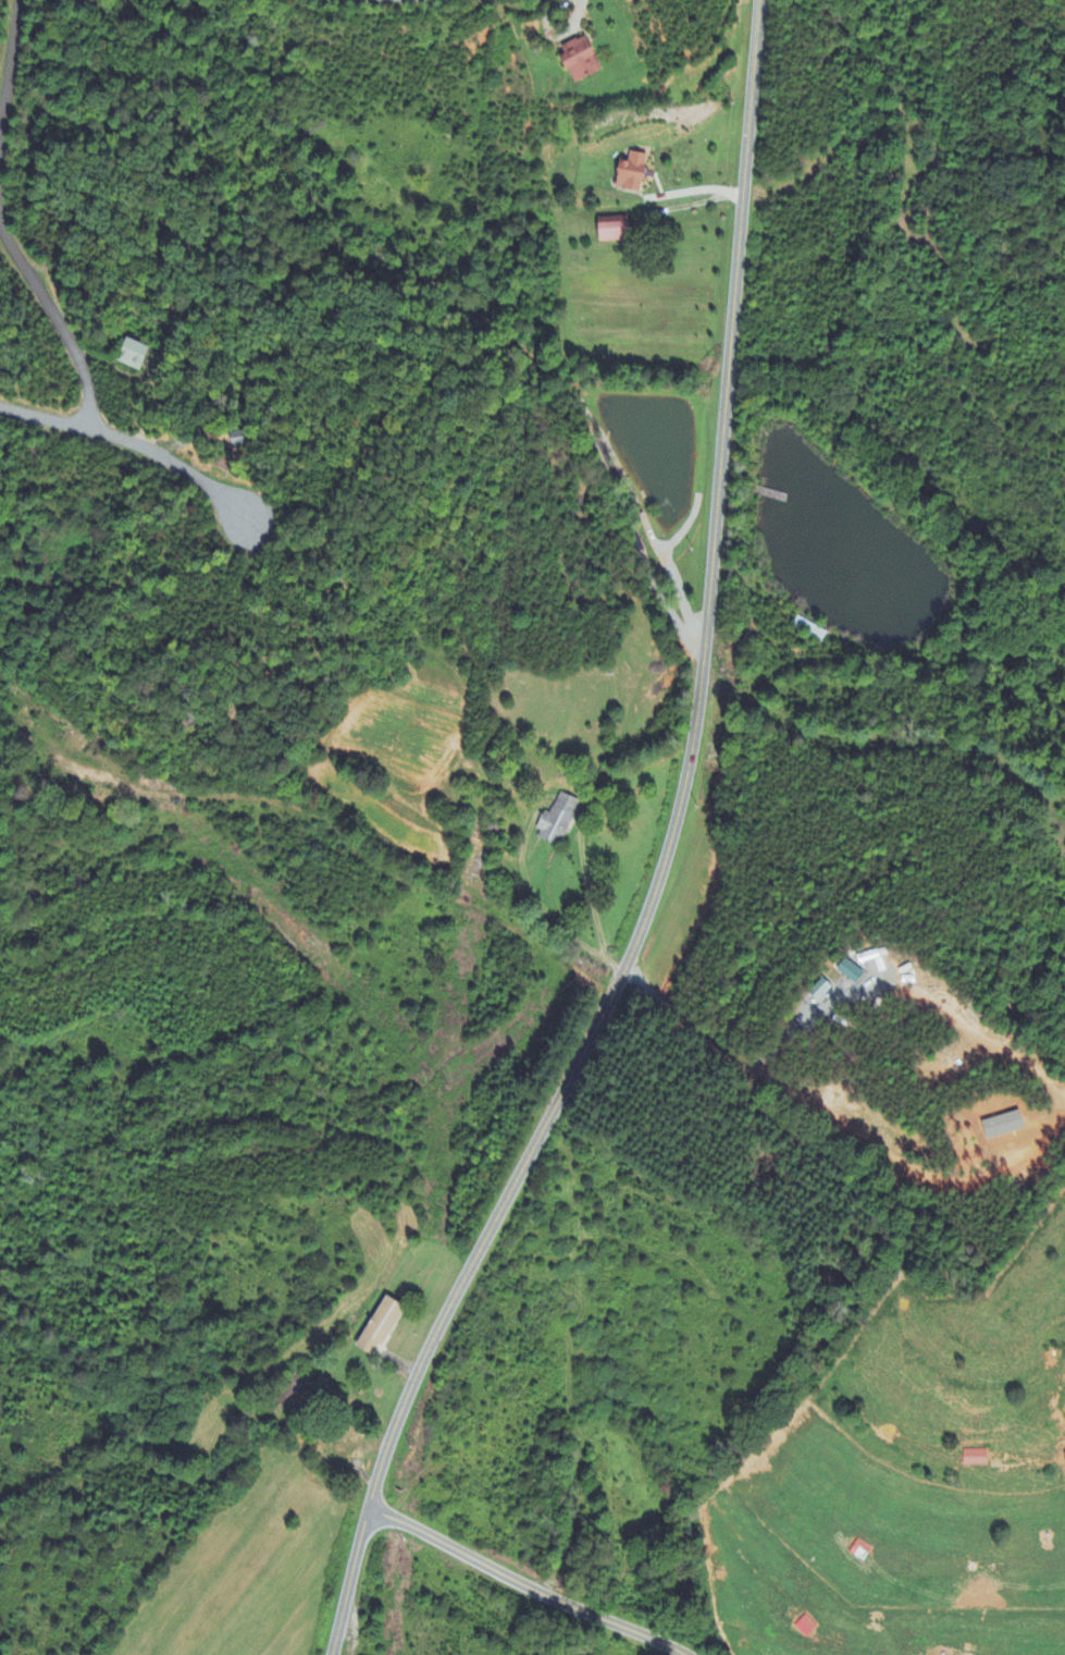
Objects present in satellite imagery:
building: (579, 61)
road: (10, 66)
building: (630, 174)
building: (611, 230)
building: (132, 356)
road: (74, 359)
building: (237, 440)
road: (173, 465)
road: (878, 744)
road: (680, 786)
building: (557, 821)
road: (342, 835)
road: (748, 1067)
building: (379, 1328)
building: (974, 1458)
road: (347, 1580)
road: (522, 1583)
building: (805, 1627)

